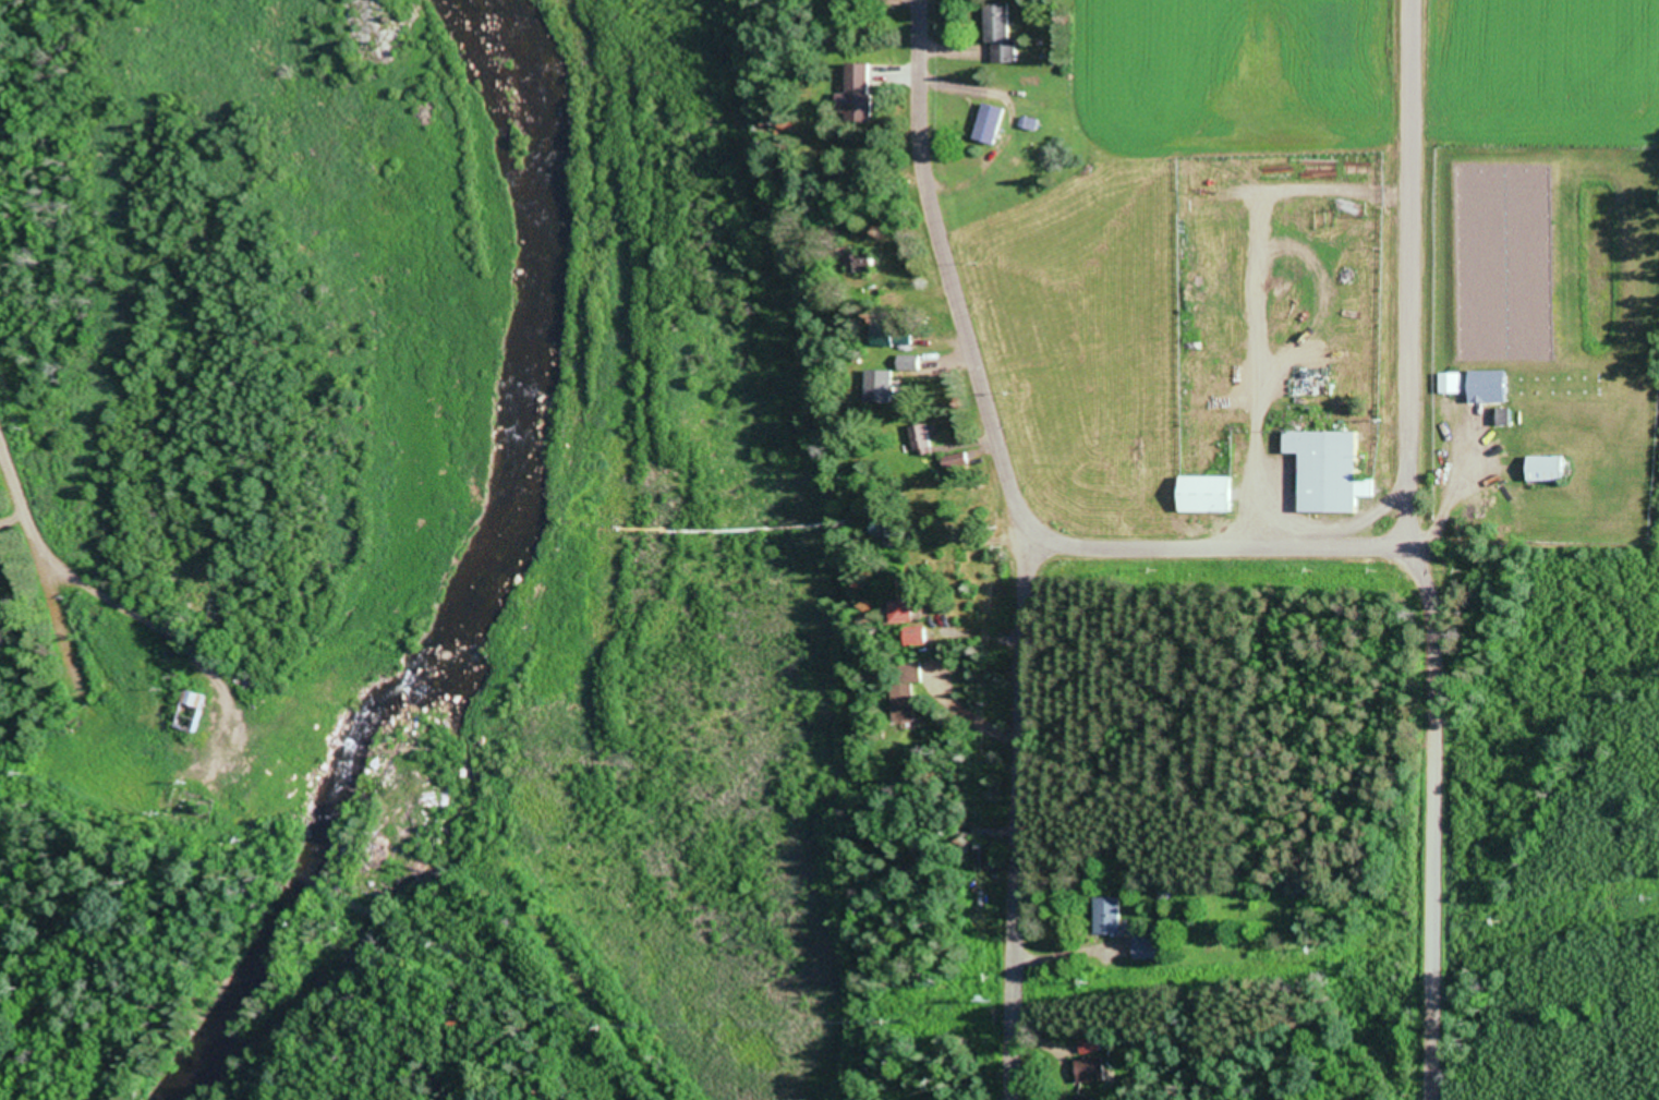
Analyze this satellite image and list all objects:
building: (1006, 29)
crop: (1240, 74)
crop: (1541, 74)
building: (863, 89)
building: (993, 120)
building: (862, 259)
road: (1415, 322)
park: (1540, 349)
building: (871, 380)
building: (1450, 380)
building: (1485, 384)
building: (1501, 412)
building: (924, 434)
road: (15, 464)
building: (1543, 464)
building: (1328, 469)
building: (1204, 492)
road: (1031, 541)
road: (1222, 544)
river: (472, 576)
building: (912, 632)
building: (901, 700)
building: (196, 706)
road: (1436, 869)
building: (1106, 912)

